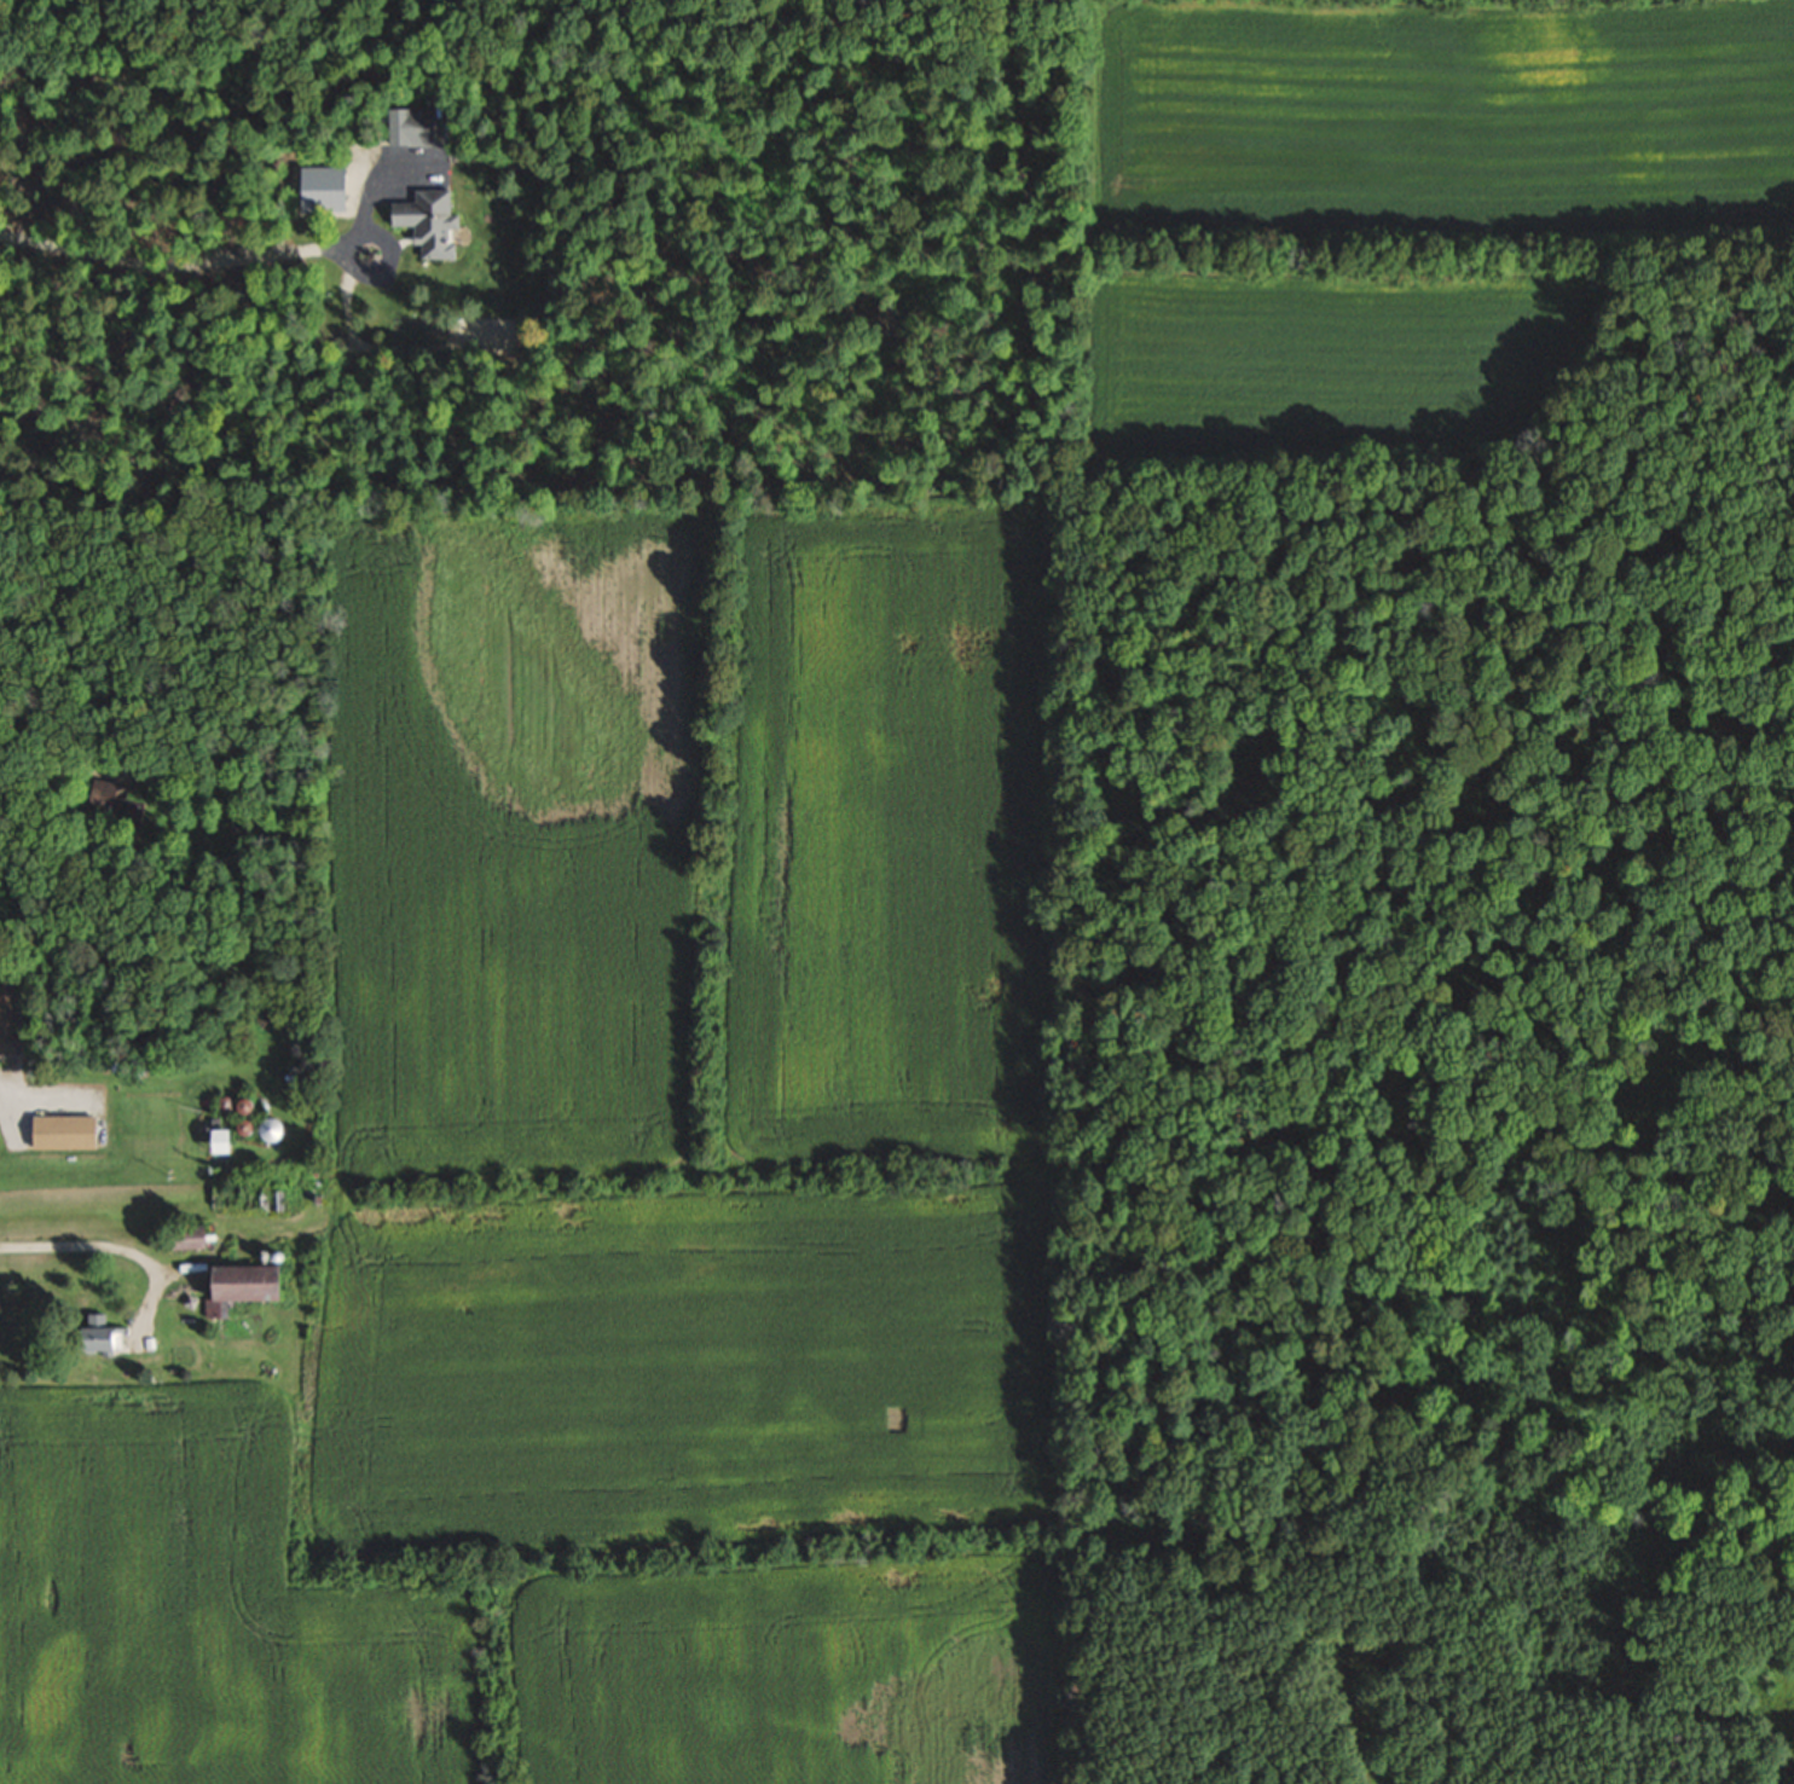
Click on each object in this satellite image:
building: (407, 127)
building: (426, 222)
road: (184, 262)
building: (109, 803)
building: (264, 1130)
building: (213, 1141)
building: (184, 1238)
building: (236, 1285)
building: (93, 1337)

